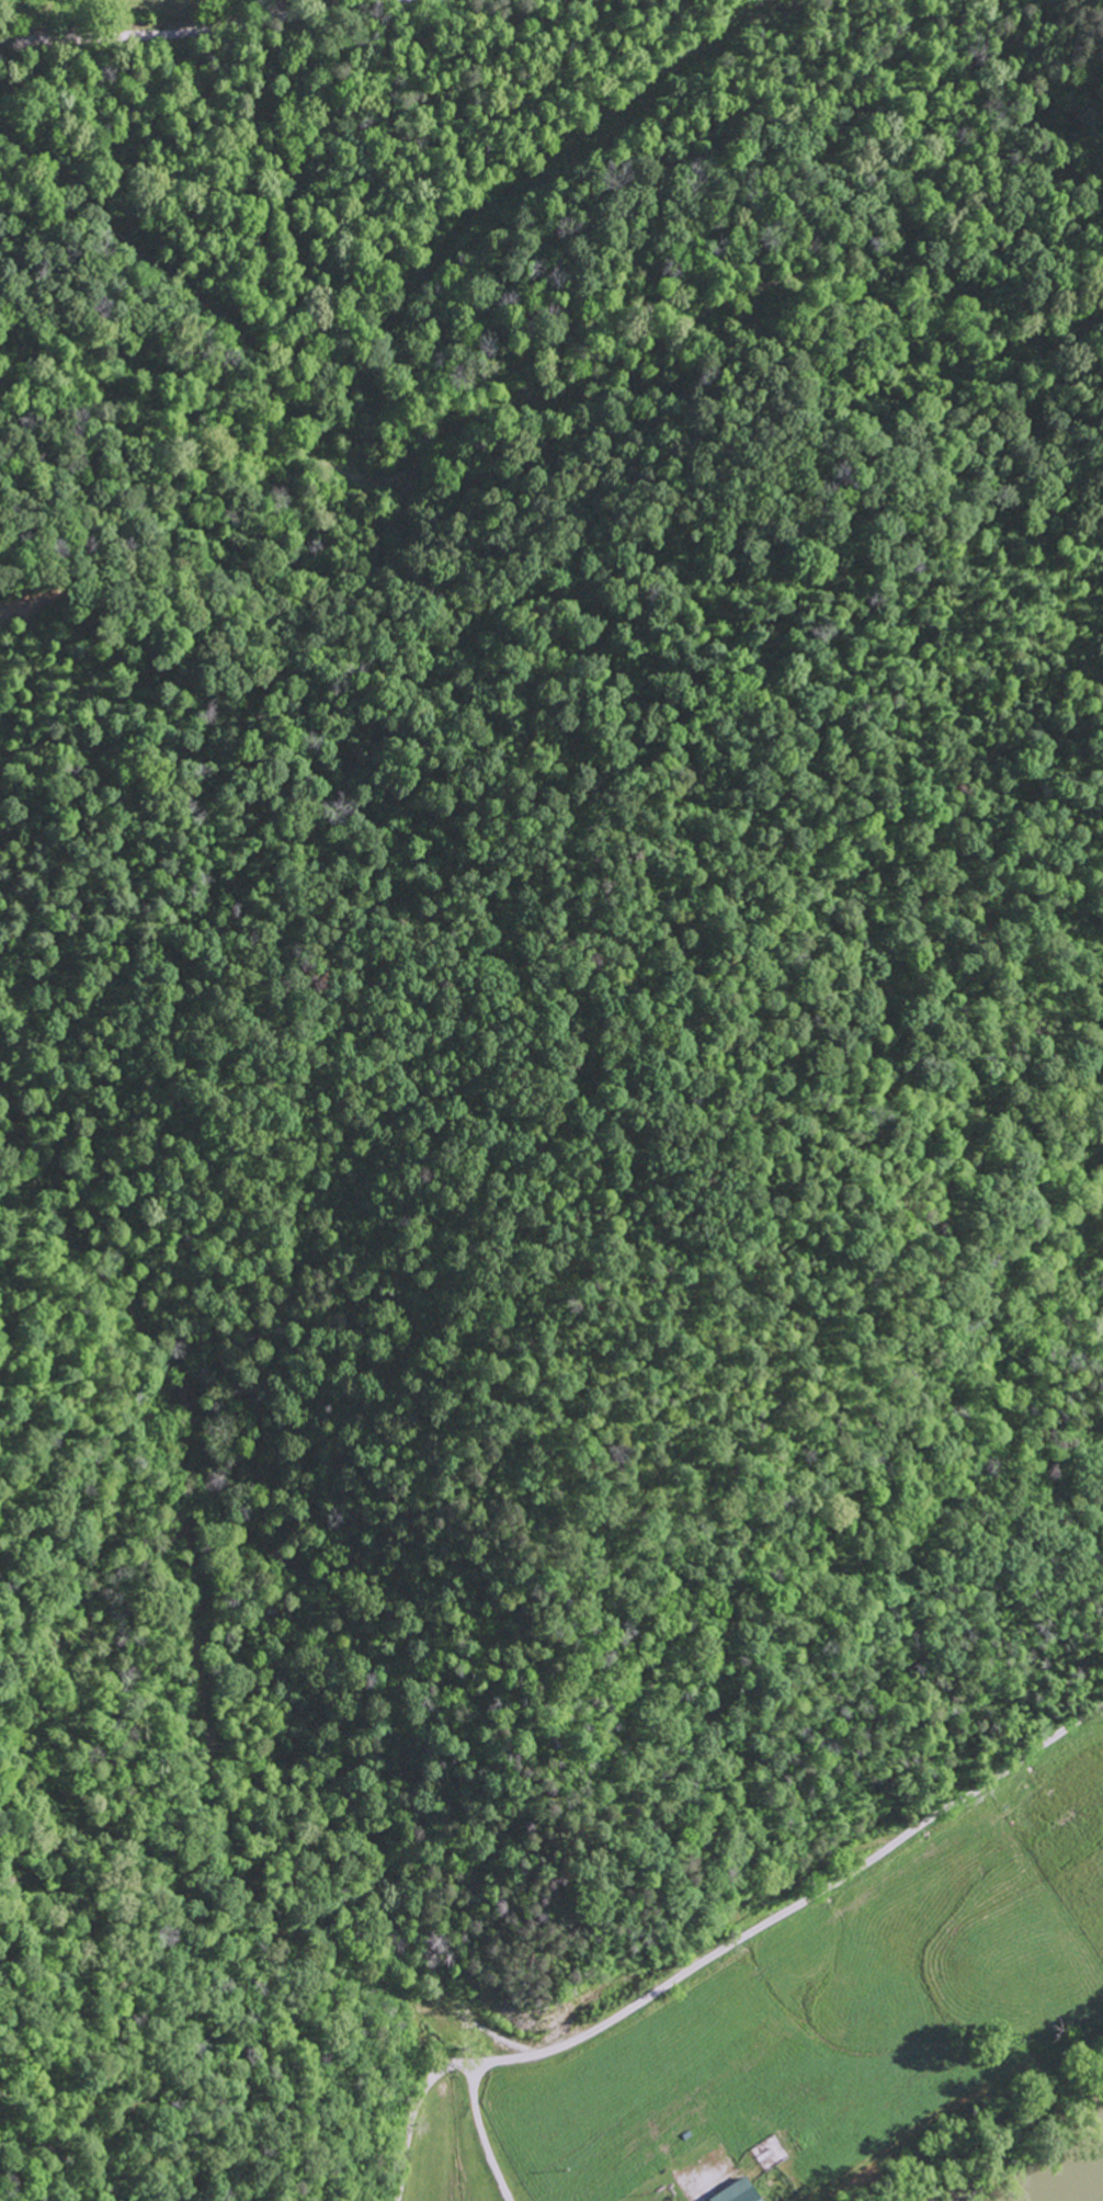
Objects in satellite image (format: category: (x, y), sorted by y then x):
road: (201, 25)
road: (564, 894)
road: (714, 1951)
building: (694, 2185)
building: (732, 2193)

